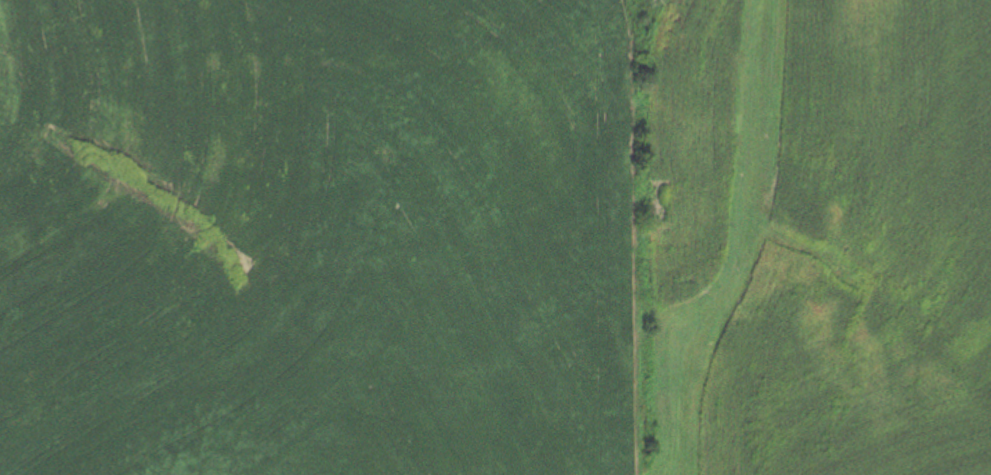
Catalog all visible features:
road: (637, 447)

